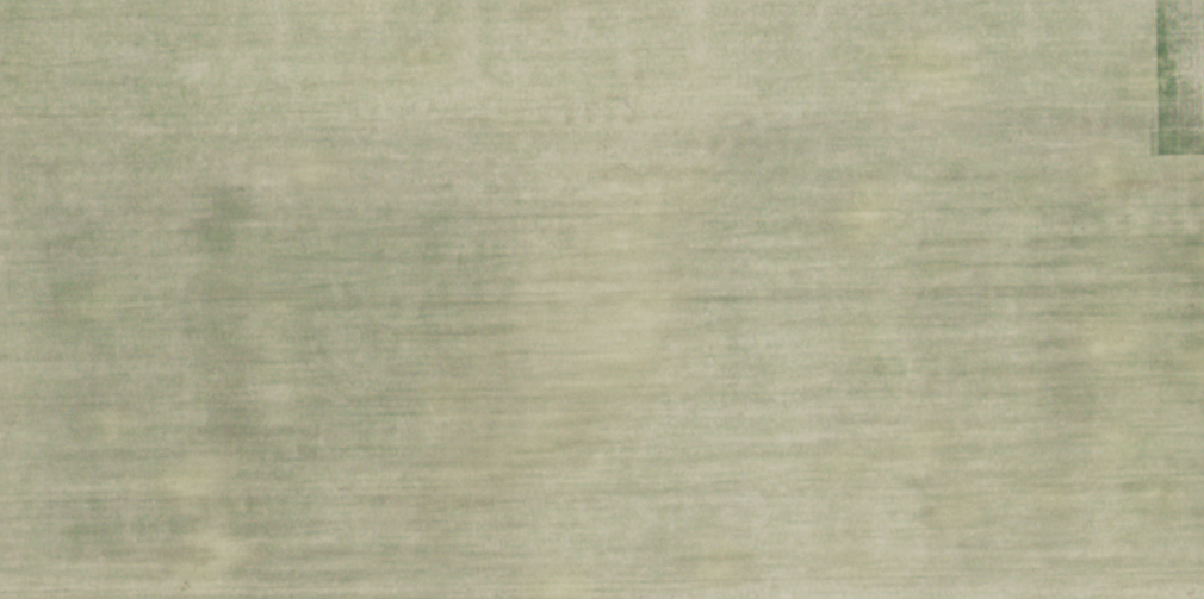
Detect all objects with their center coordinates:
crop: (602, 299)

